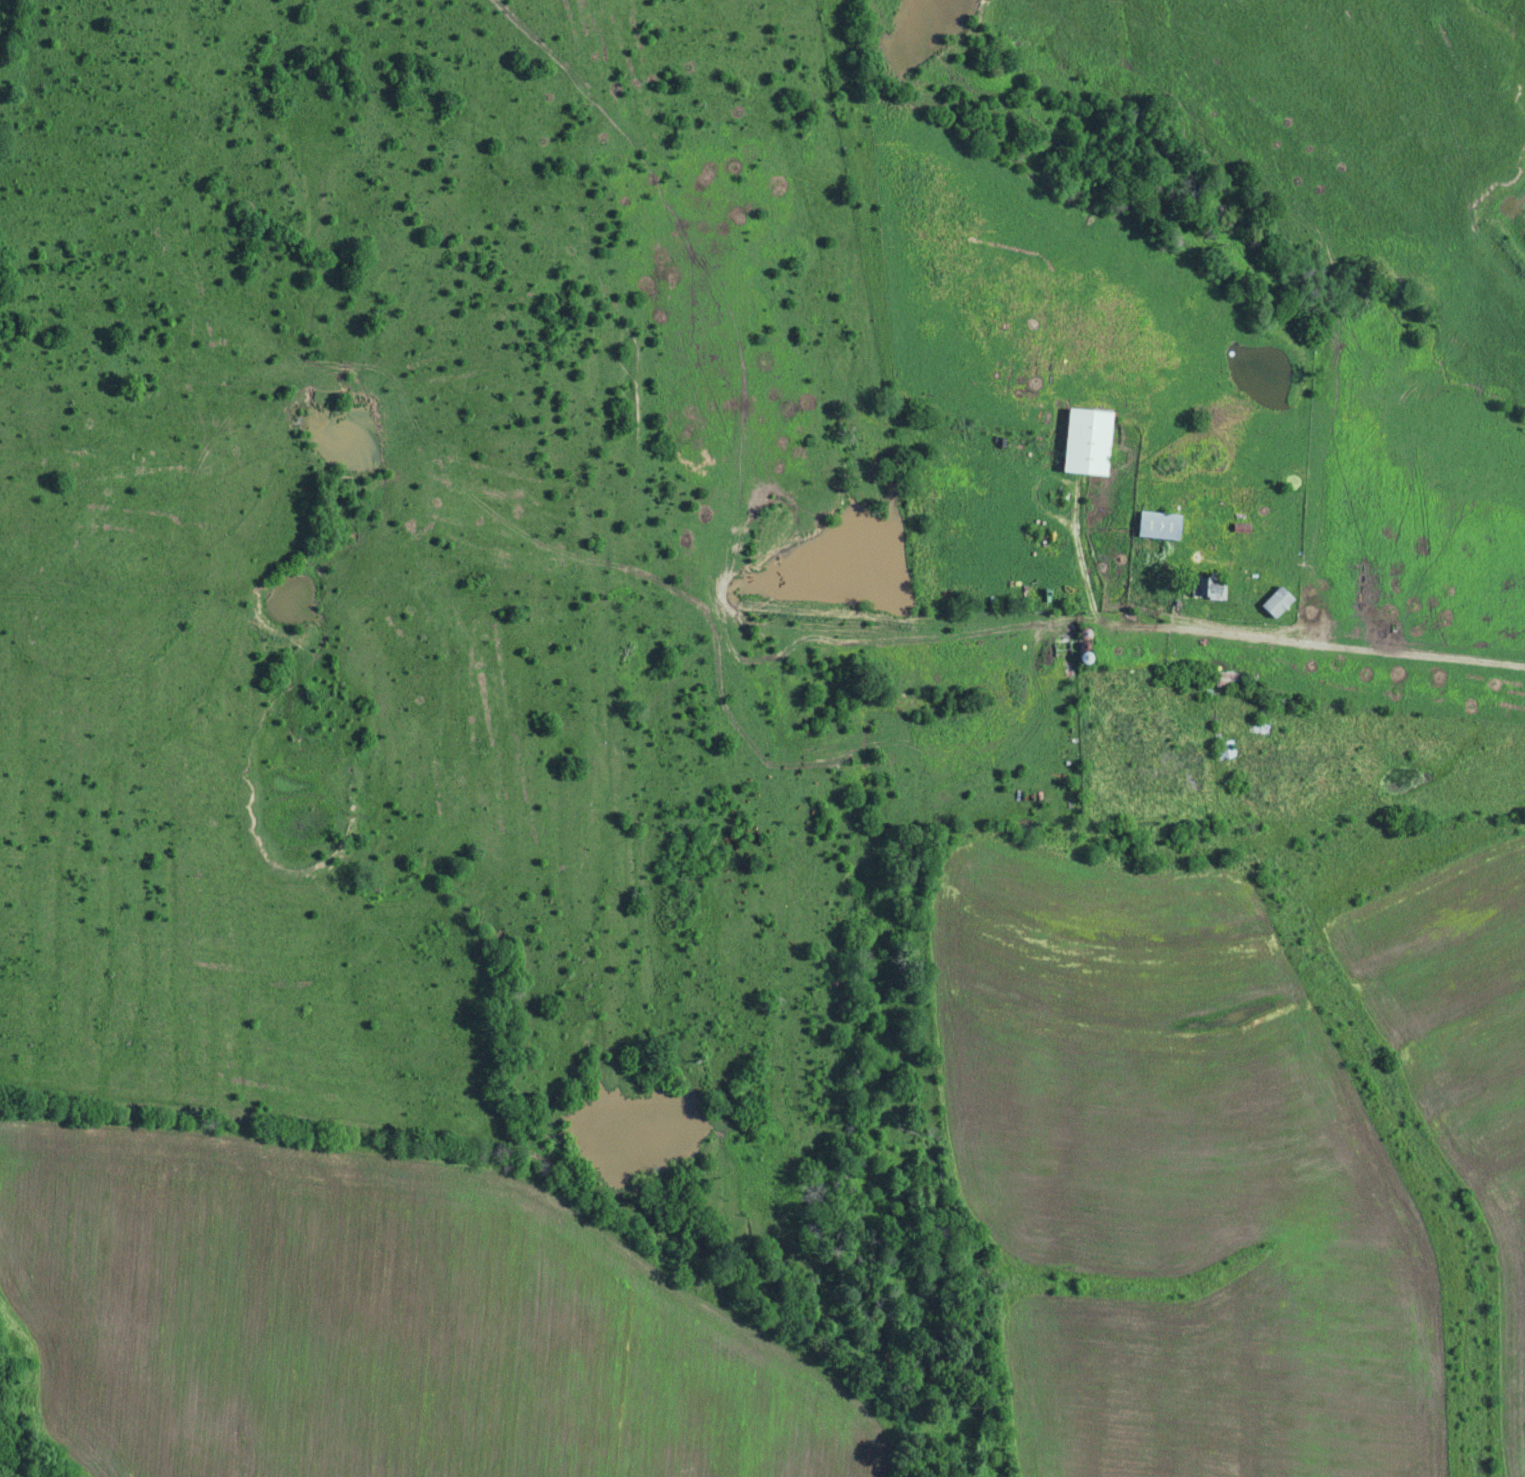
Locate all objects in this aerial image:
building: (1085, 441)
building: (1158, 523)
building: (1207, 585)
building: (1276, 600)
road: (1353, 643)
building: (1061, 648)
building: (1229, 677)
building: (1228, 747)

